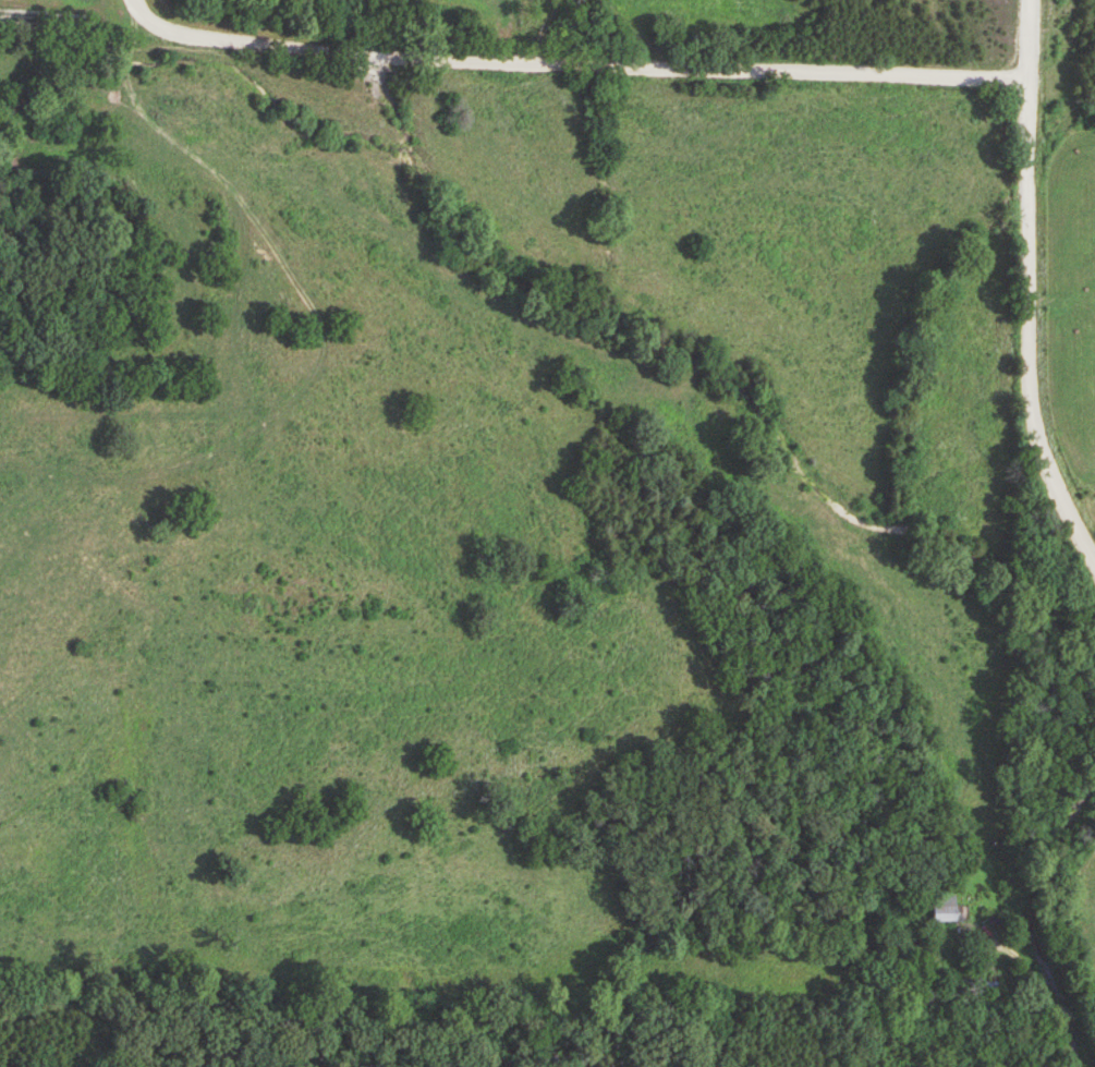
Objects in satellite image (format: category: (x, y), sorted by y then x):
road: (565, 59)
road: (1021, 291)
building: (945, 909)
road: (1043, 987)

